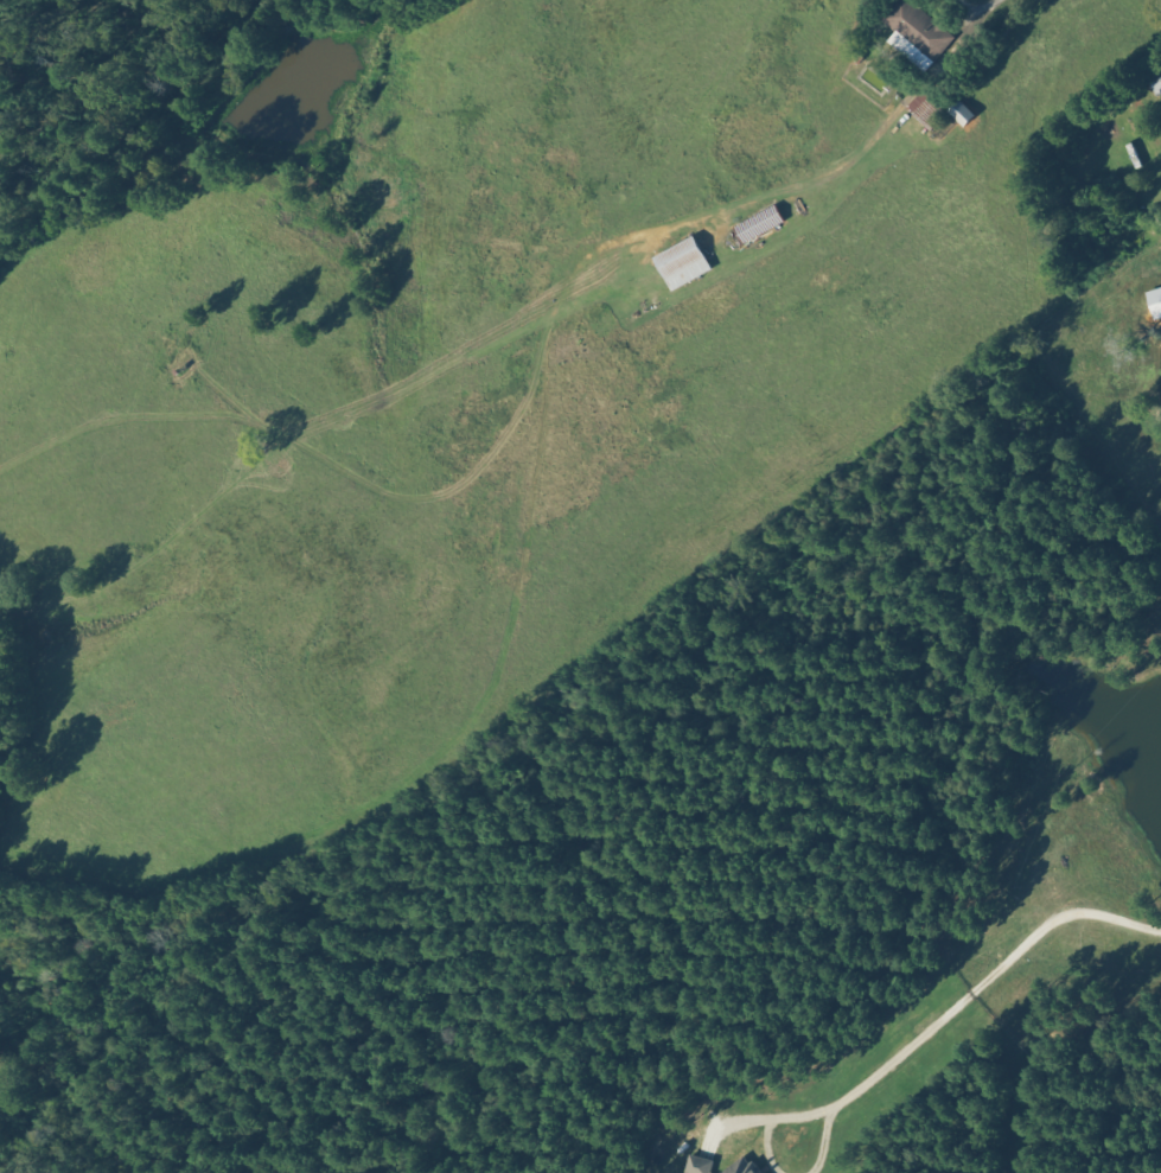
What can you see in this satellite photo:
building: (920, 34)
building: (1156, 84)
building: (926, 110)
building: (961, 113)
building: (682, 263)
building: (1154, 302)
building: (698, 1165)
building: (744, 1167)

